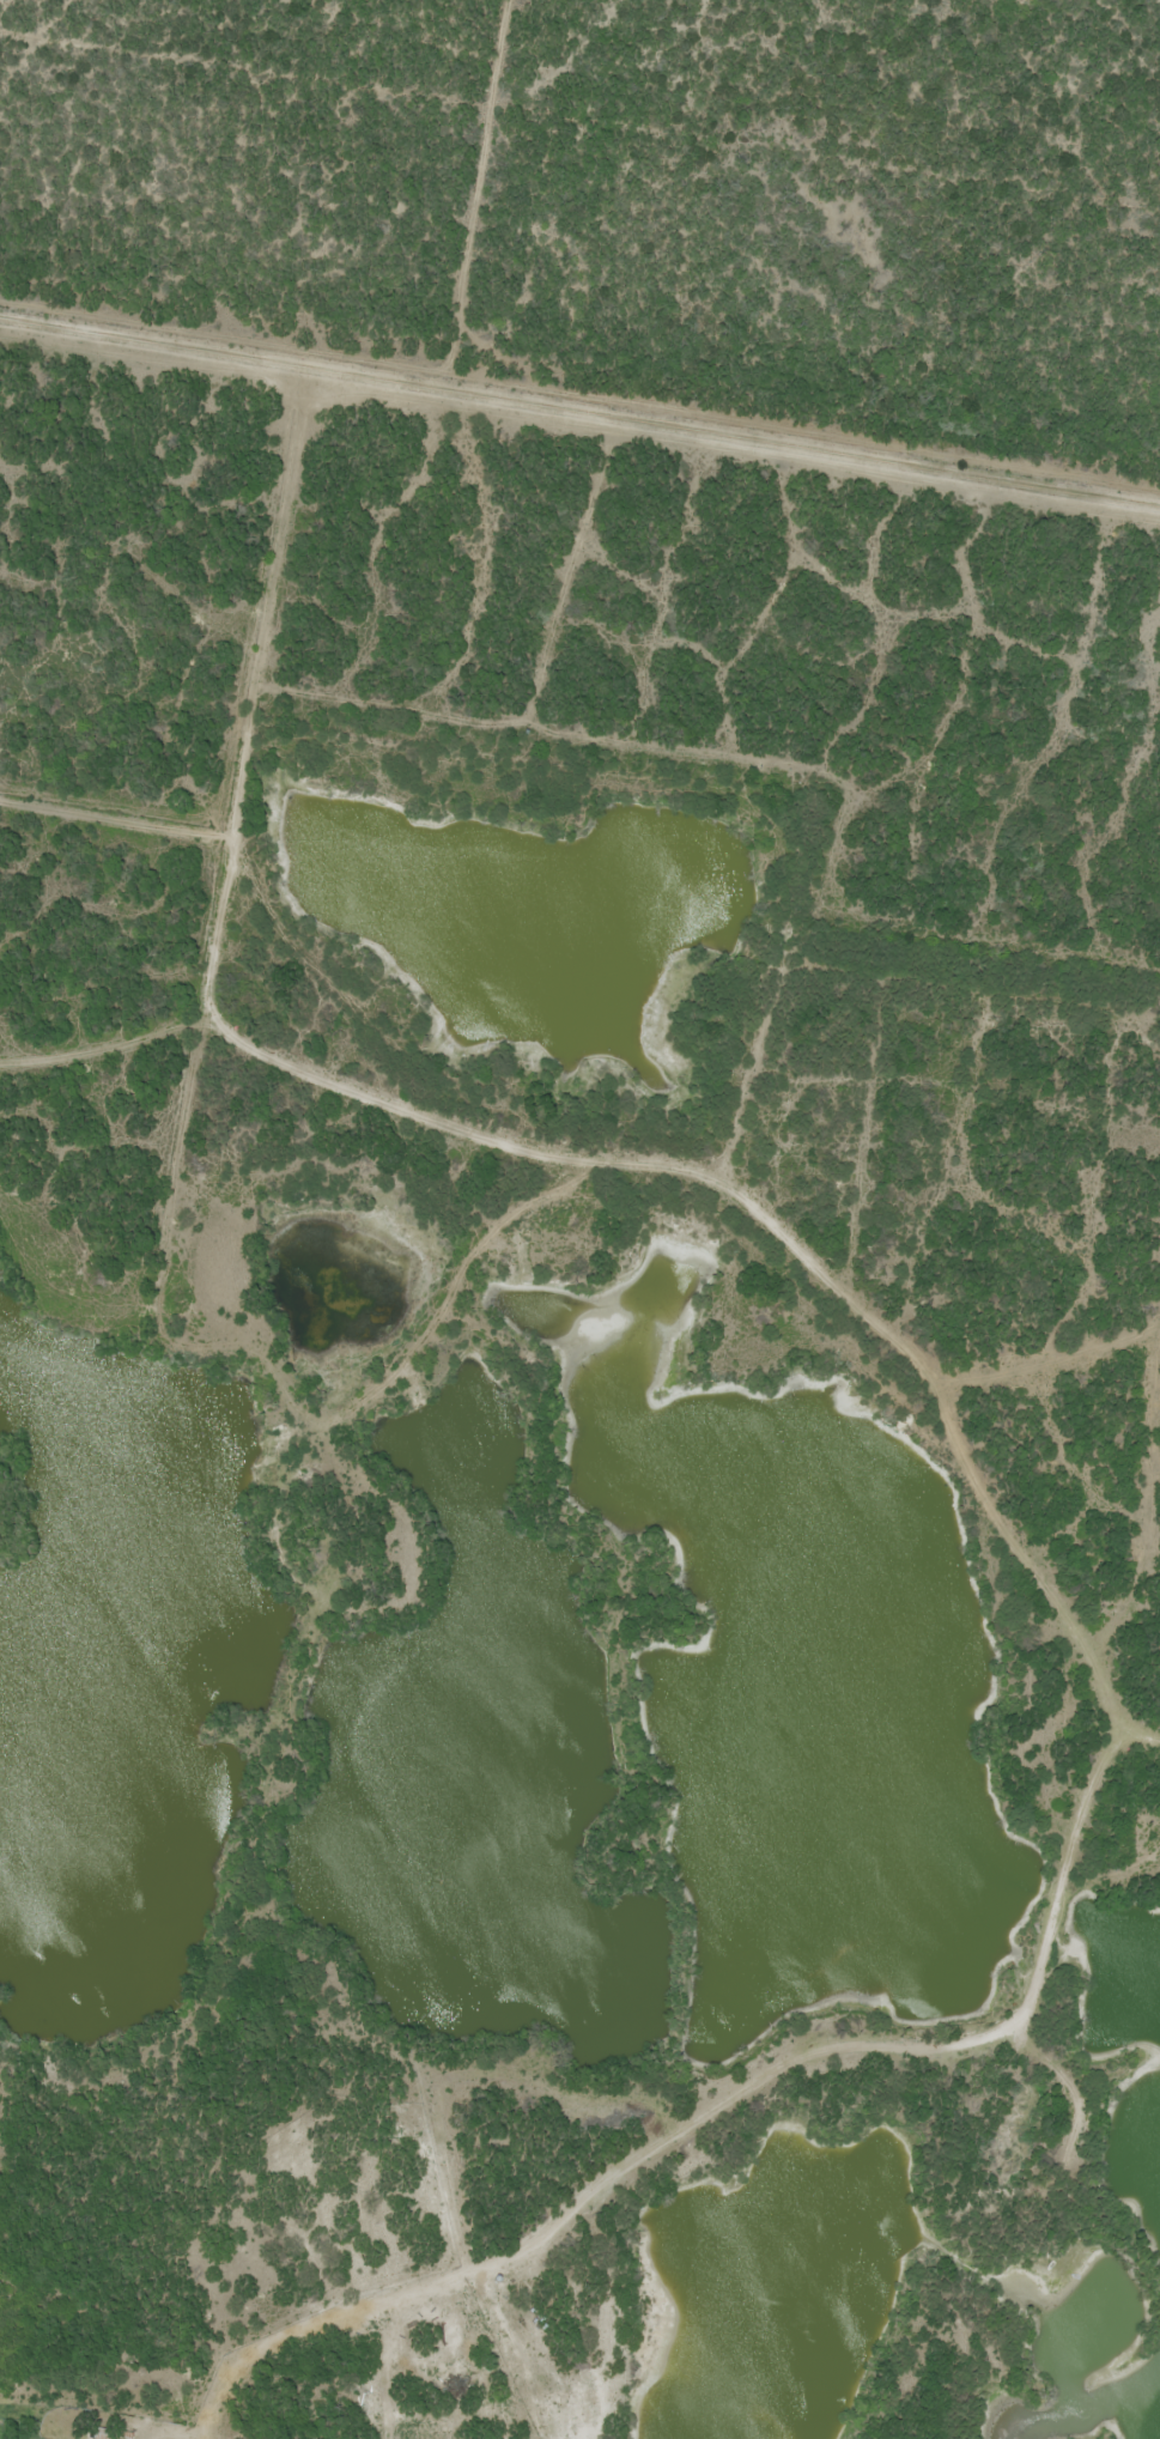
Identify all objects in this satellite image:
road: (487, 152)
building: (113, 2434)

